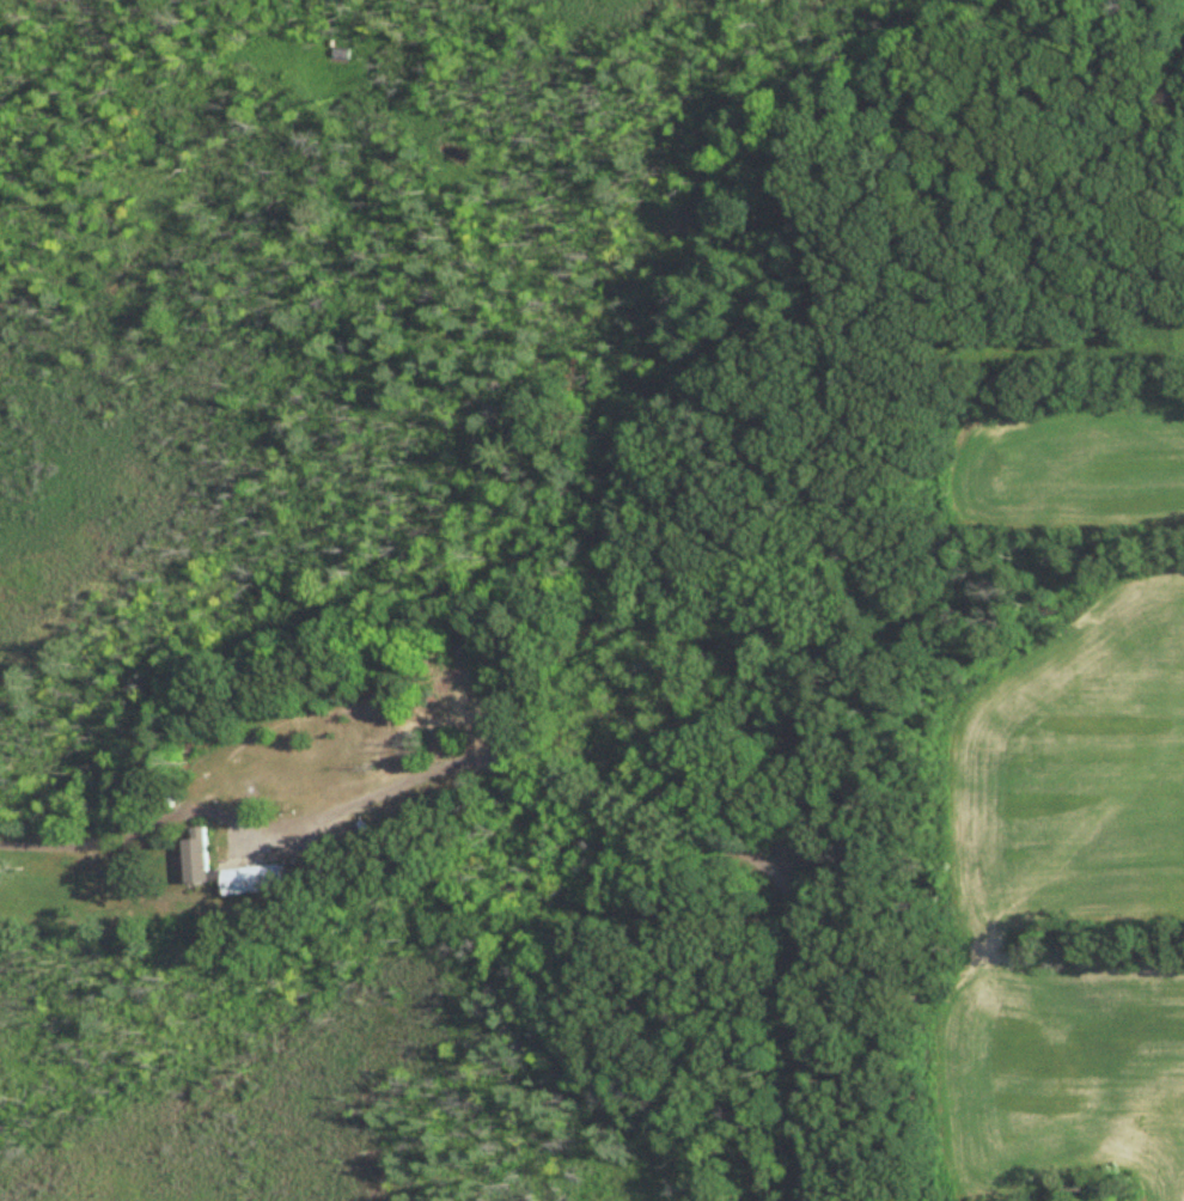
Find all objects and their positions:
road: (152, 819)
road: (671, 825)
building: (195, 858)
building: (251, 880)

